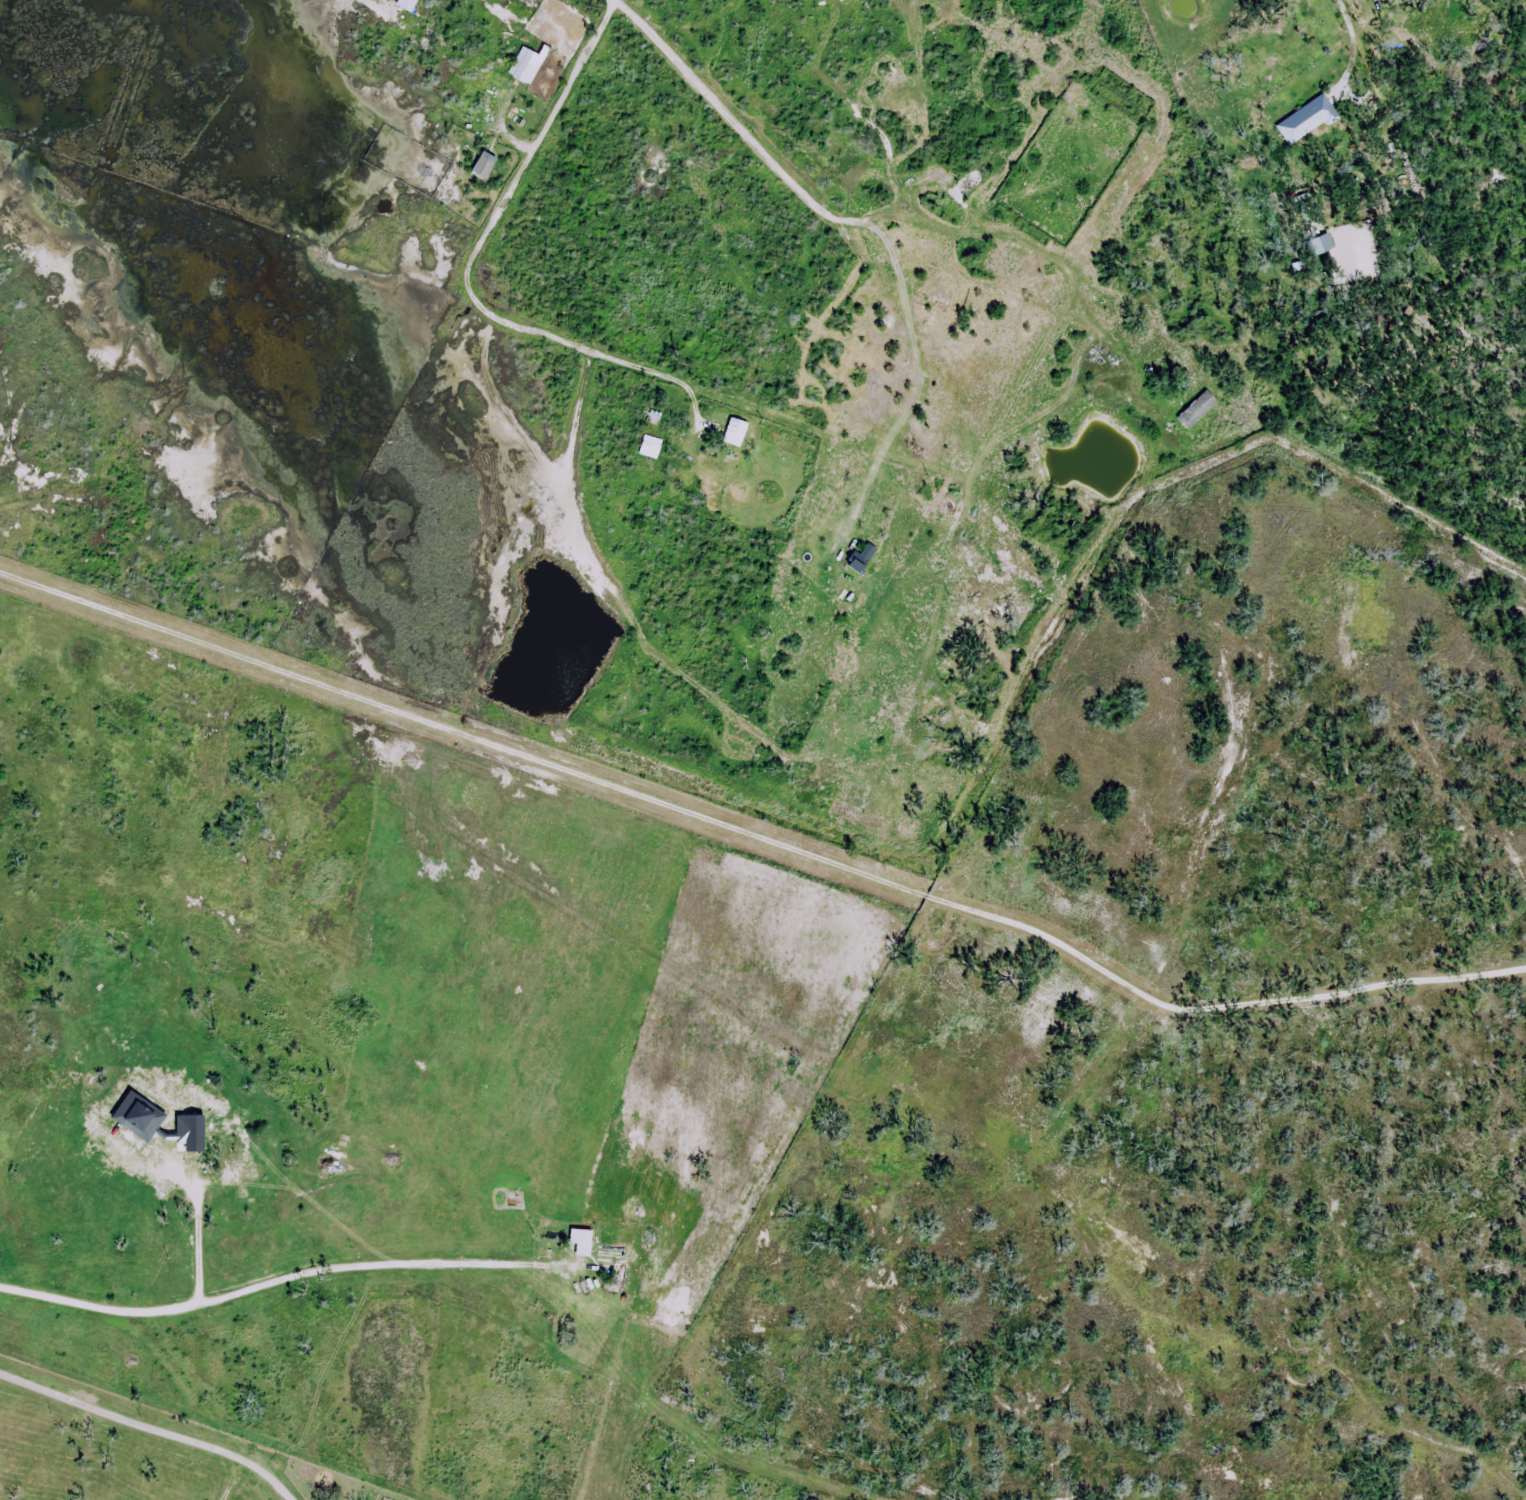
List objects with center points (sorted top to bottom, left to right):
road: (712, 102)
building: (1304, 121)
road: (540, 133)
building: (485, 164)
building: (970, 184)
building: (1322, 244)
building: (887, 316)
building: (1198, 409)
building: (650, 422)
building: (736, 432)
building: (865, 558)
building: (949, 782)
road: (757, 841)
building: (192, 1146)
building: (239, 1169)
building: (584, 1237)
road: (197, 1246)
building: (612, 1256)
road: (269, 1280)
road: (149, 1425)
building: (643, 1492)

